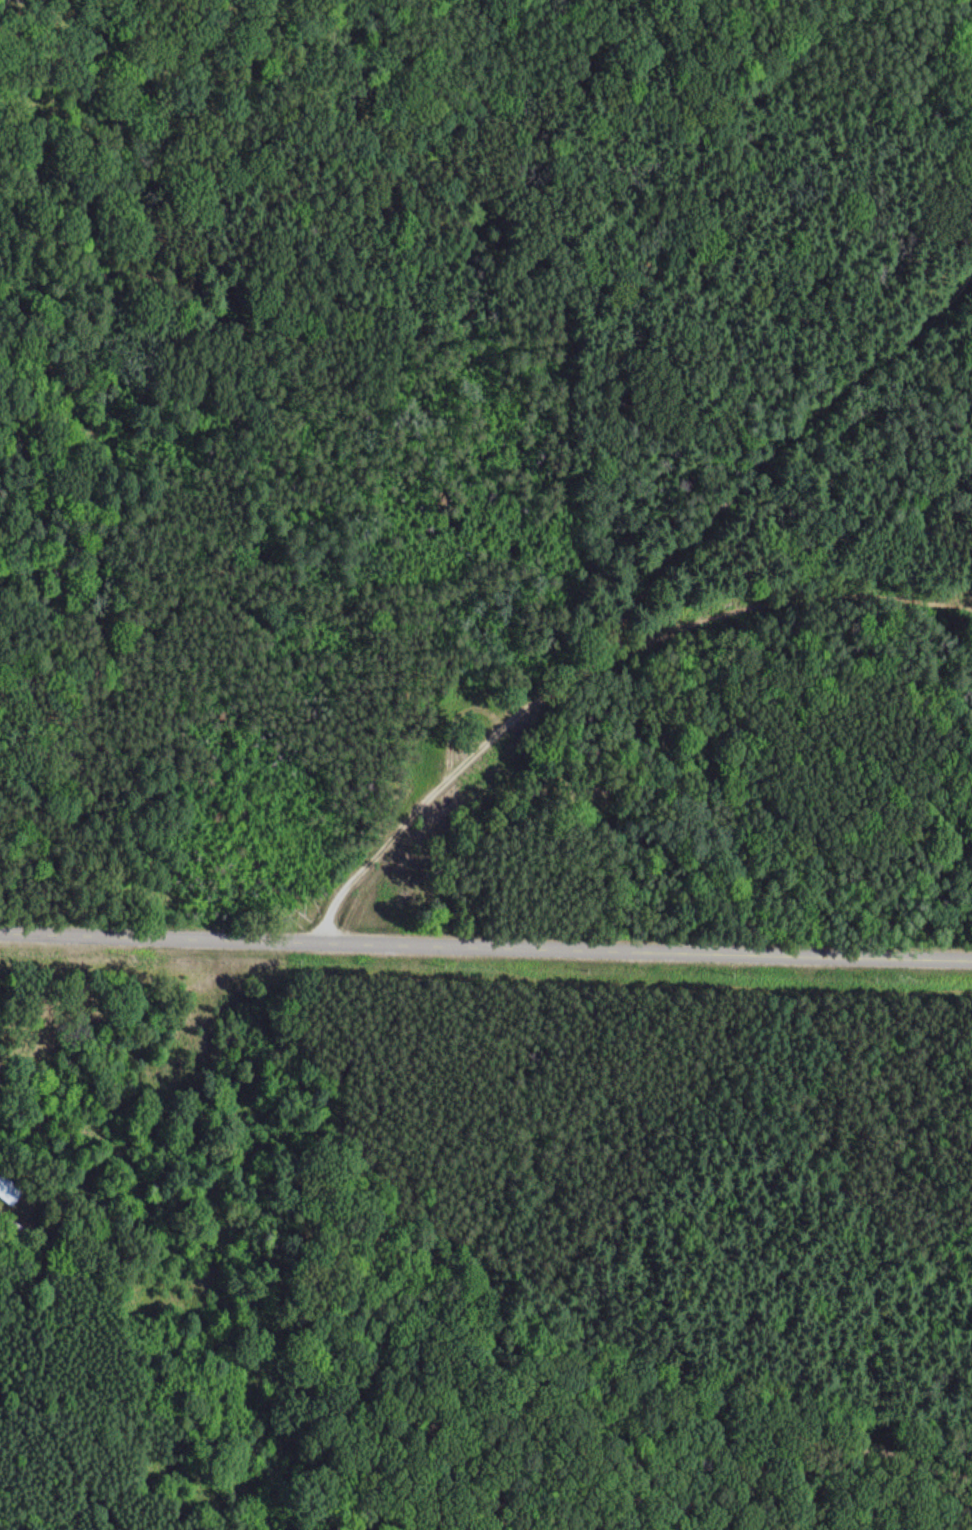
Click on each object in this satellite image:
road: (432, 353)
road: (671, 575)
road: (783, 604)
road: (441, 782)
road: (485, 946)
road: (136, 1001)
building: (9, 1191)
road: (805, 1435)

